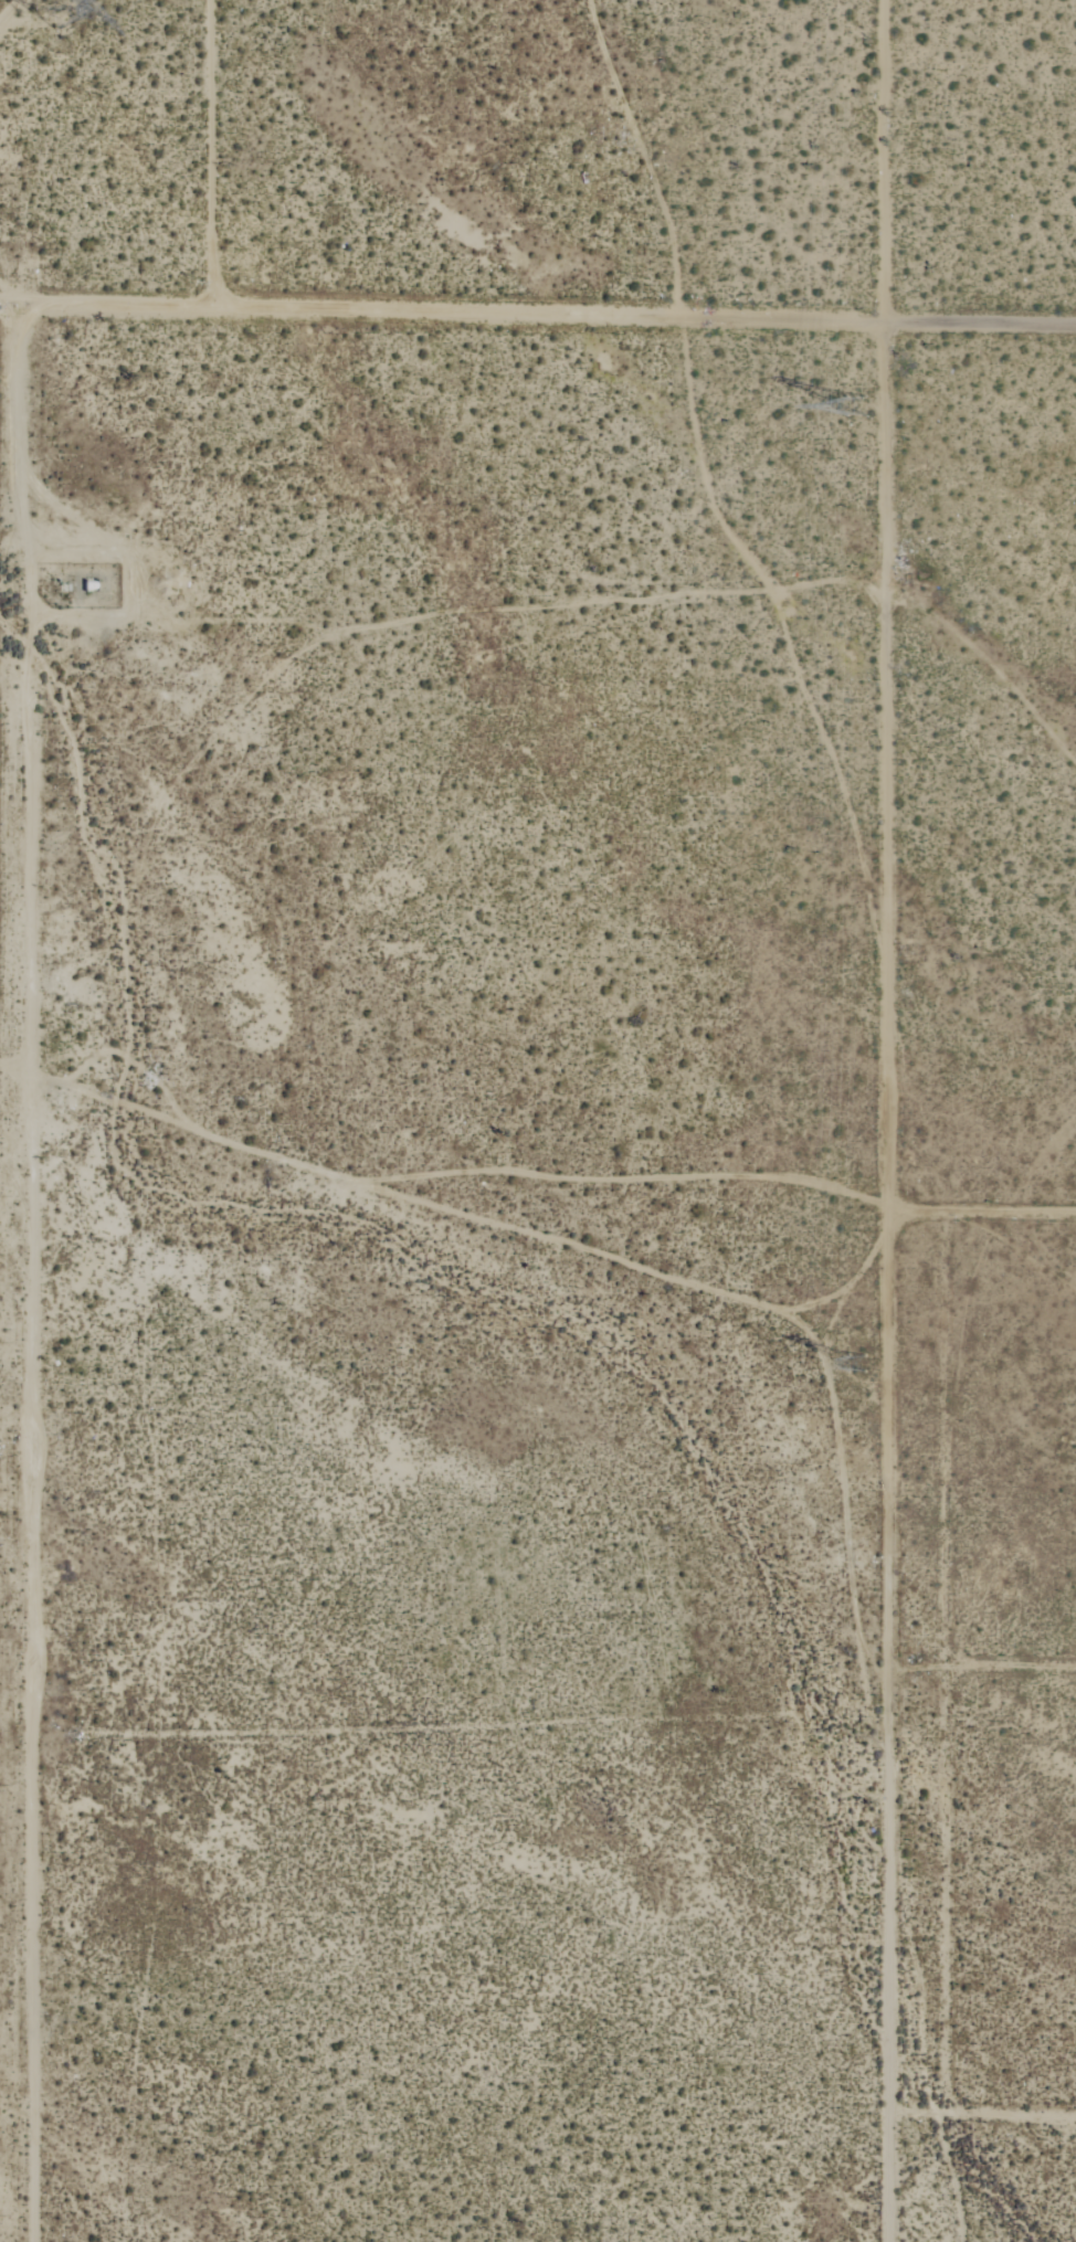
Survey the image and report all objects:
power tower: (56, 10)
road: (214, 155)
road: (538, 313)
power tower: (859, 403)
road: (24, 739)
road: (7, 1165)
road: (984, 1208)
road: (896, 1280)
power tower: (862, 1360)
road: (977, 1698)
road: (972, 2108)

